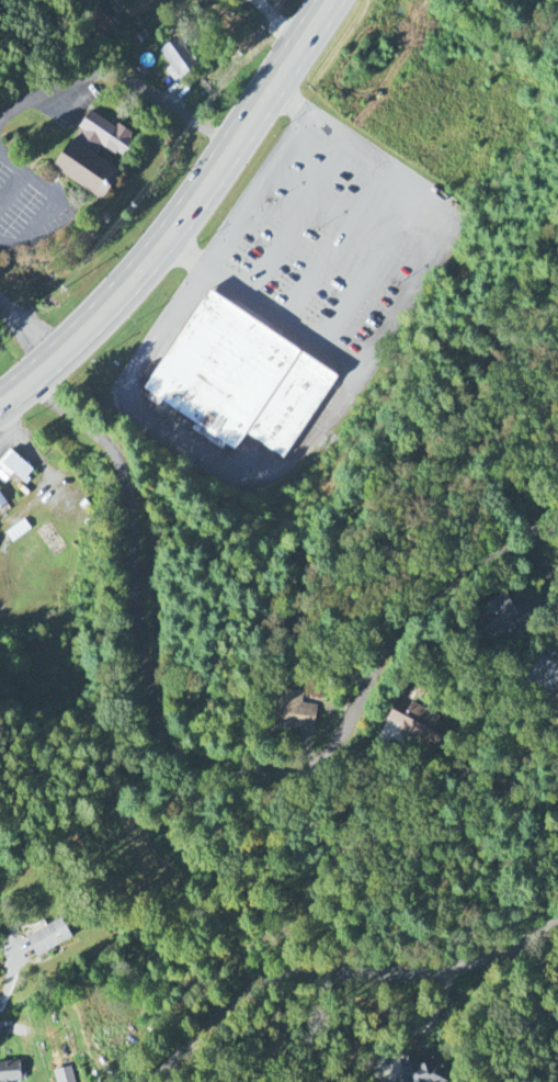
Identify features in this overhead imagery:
building: (178, 58)
road: (118, 78)
building: (102, 136)
building: (82, 170)
road: (254, 194)
road: (182, 216)
road: (27, 330)
building: (236, 382)
building: (16, 469)
building: (3, 503)
road: (32, 503)
road: (534, 539)
building: (493, 617)
building: (295, 712)
building: (414, 724)
road: (187, 759)
road: (492, 800)
building: (55, 939)
road: (342, 973)
road: (10, 979)
road: (425, 1029)
building: (429, 1070)
building: (13, 1072)
building: (68, 1075)

